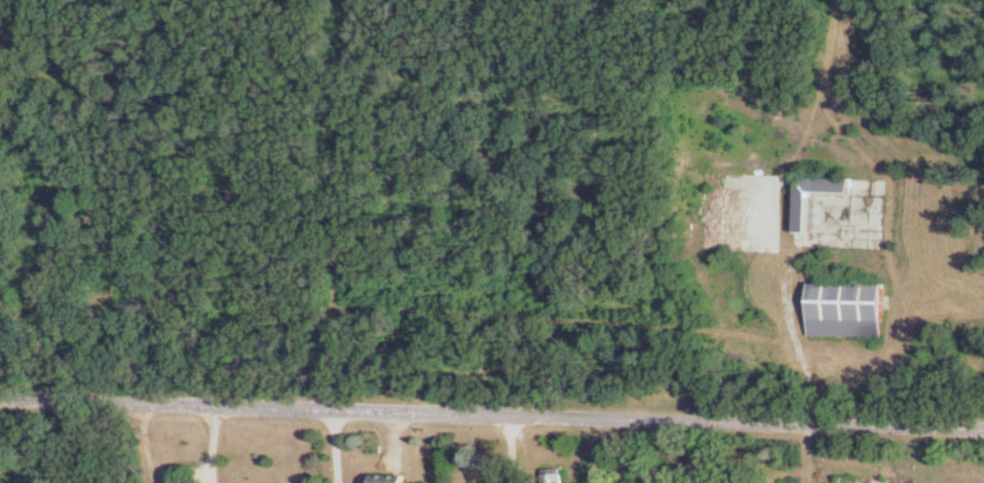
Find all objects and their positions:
building: (818, 198)
building: (847, 311)
road: (802, 347)
road: (492, 415)
road: (339, 446)
road: (517, 449)
building: (555, 477)
building: (388, 480)

